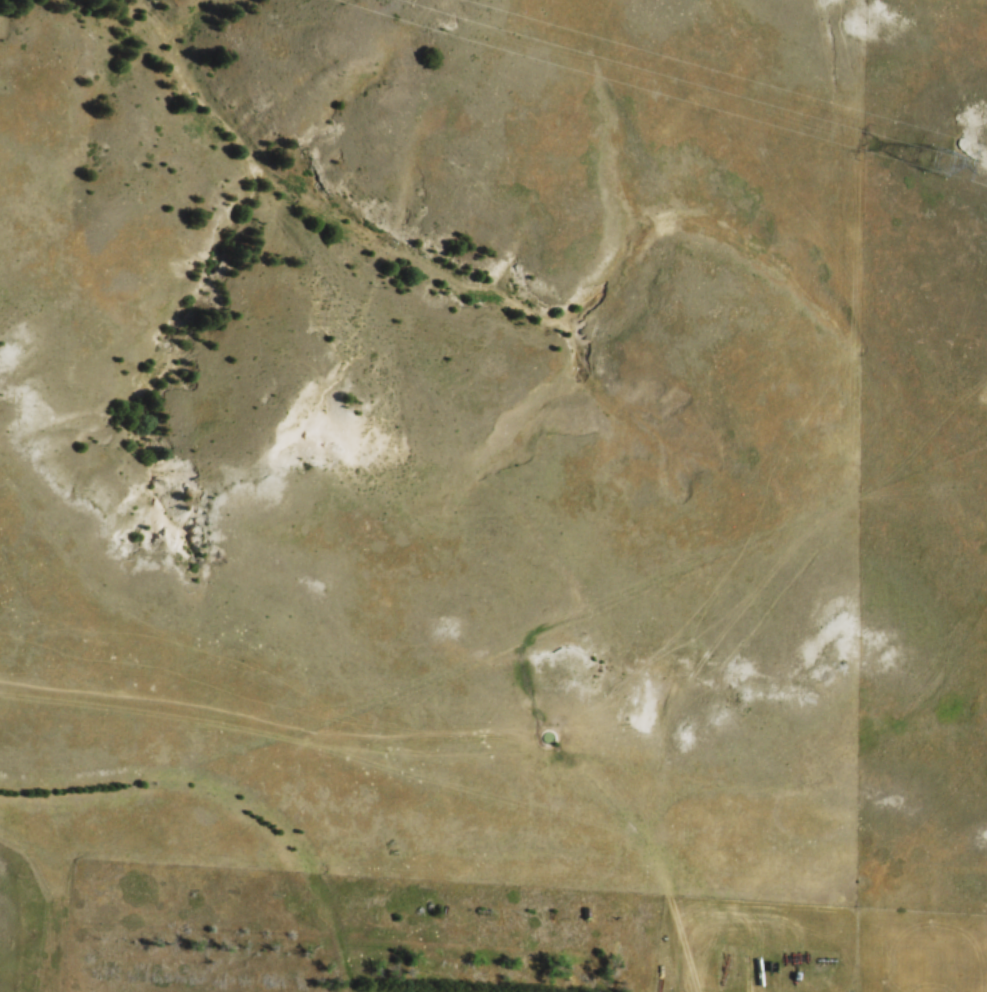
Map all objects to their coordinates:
power tower: (946, 153)

